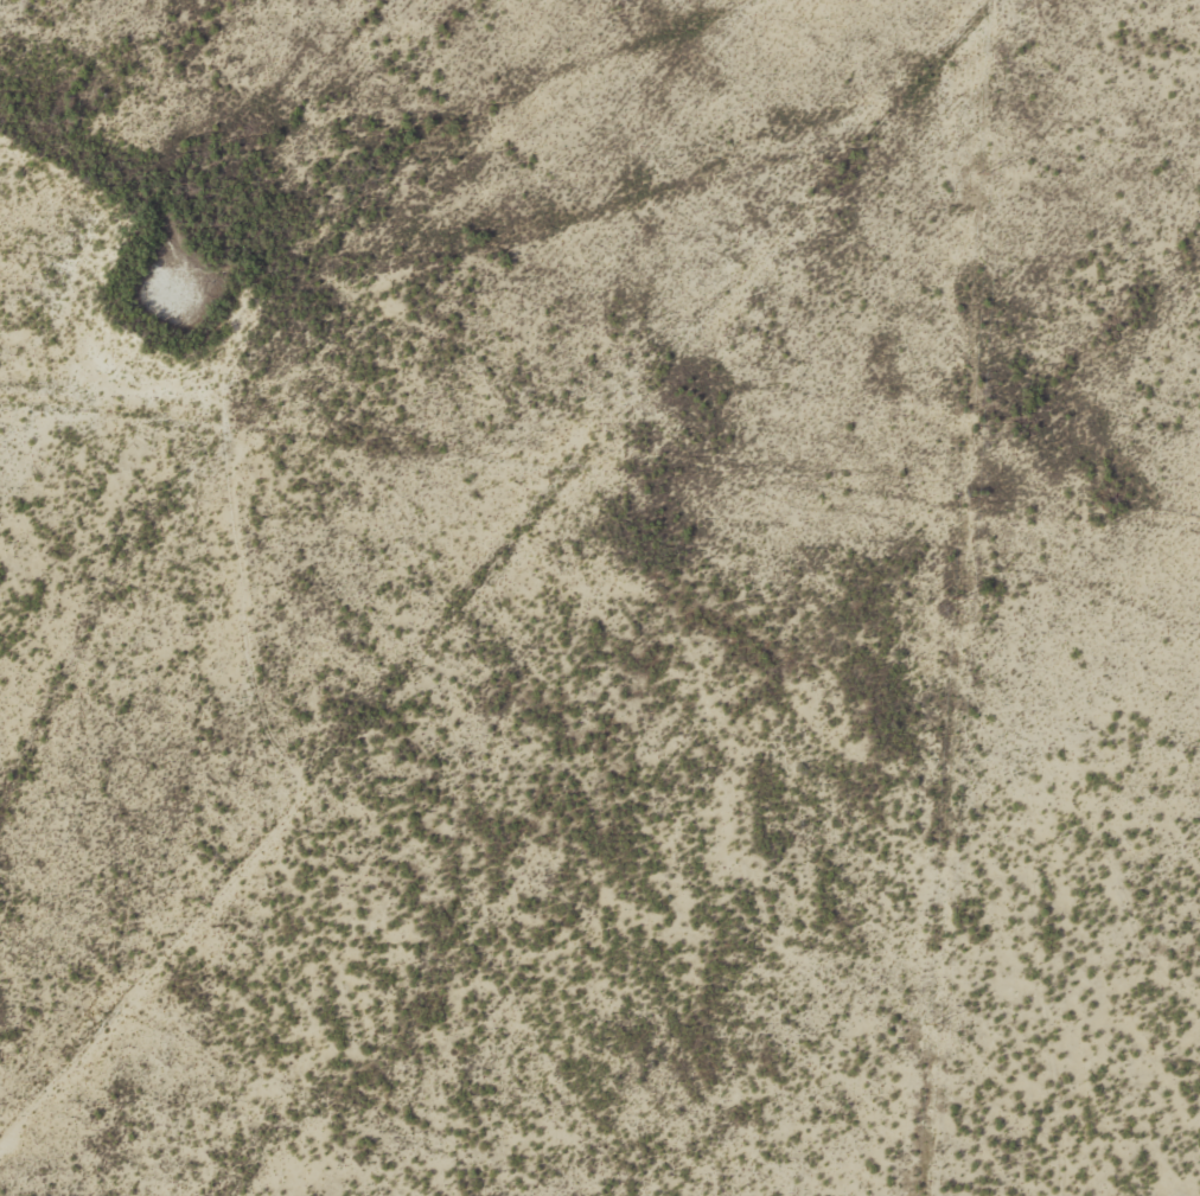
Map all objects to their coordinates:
power tower: (982, 174)
power tower: (956, 601)
road: (30, 752)
power tower: (931, 1025)

